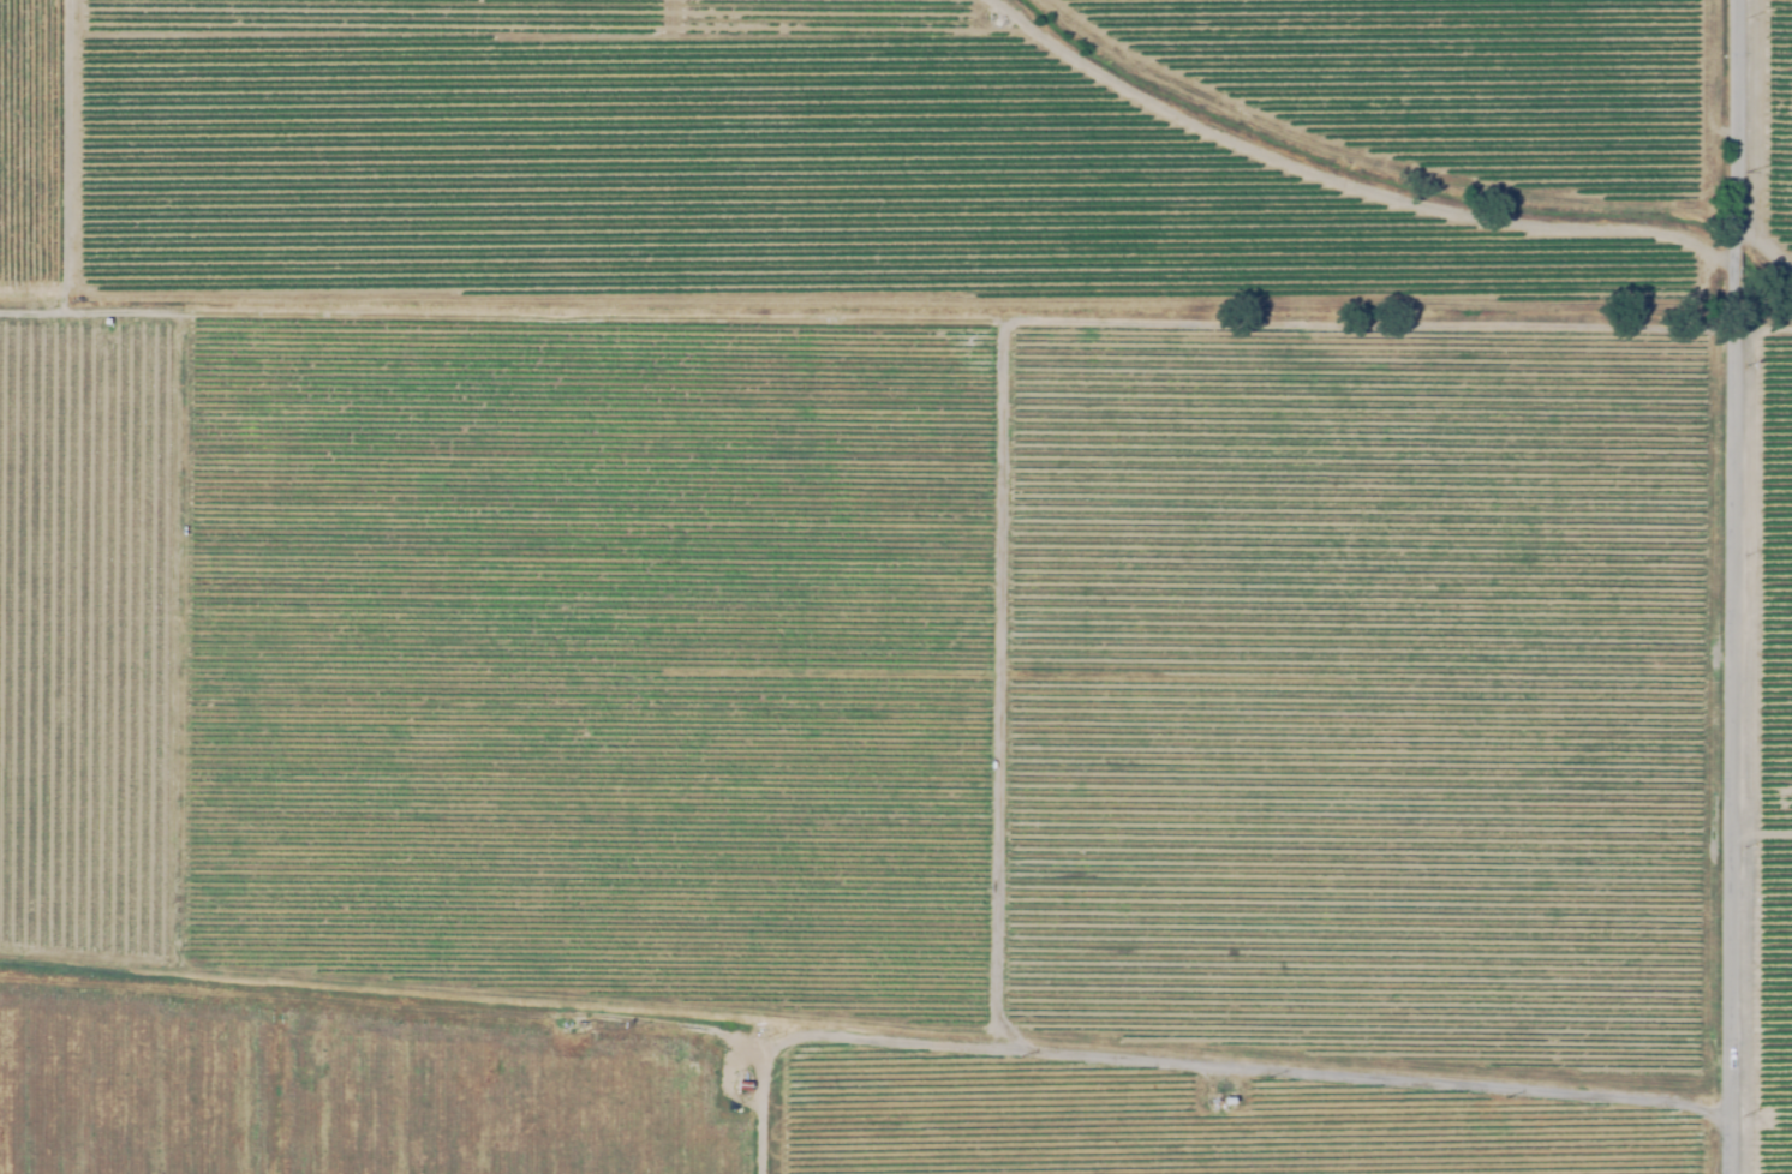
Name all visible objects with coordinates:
road: (1719, 586)
building: (741, 1085)
building: (1226, 1100)

